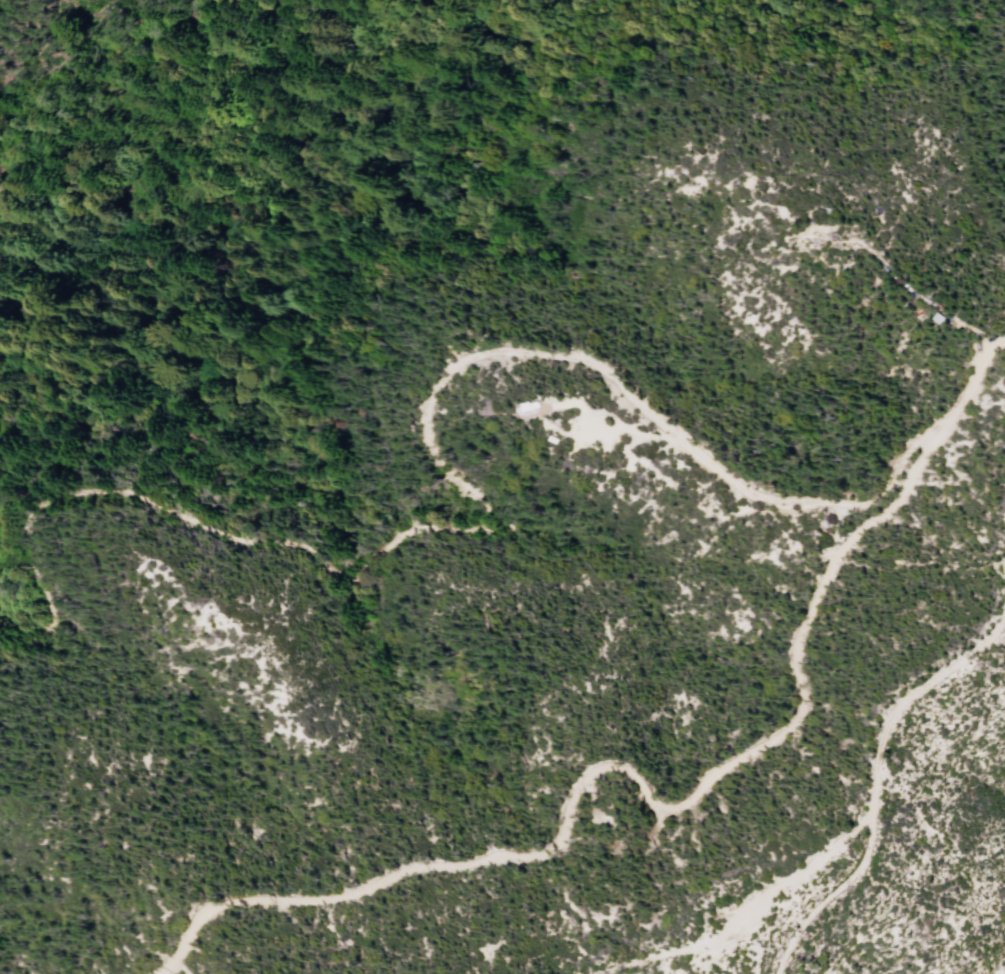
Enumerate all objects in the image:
road: (932, 307)
building: (530, 406)
road: (608, 427)
building: (553, 439)
road: (469, 492)
road: (861, 797)
road: (661, 806)
road: (823, 896)

